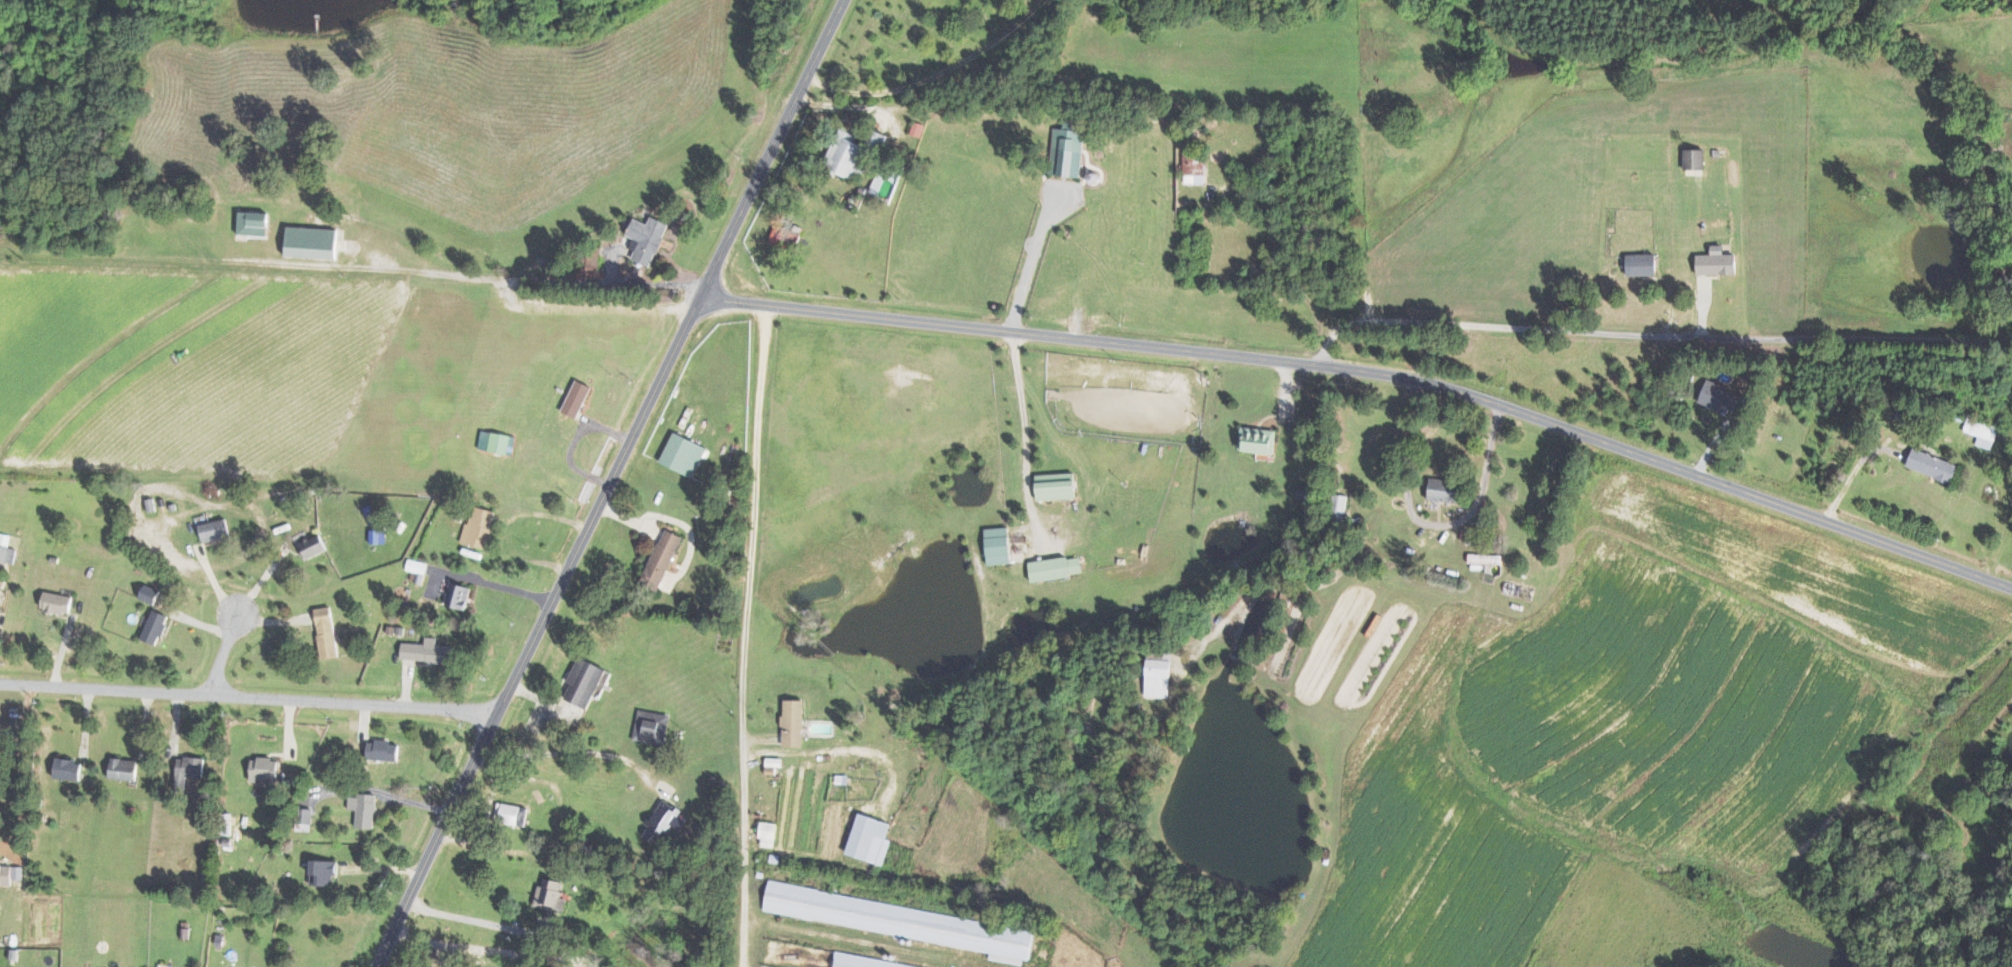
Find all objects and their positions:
road: (934, 75)
road: (847, 104)
building: (919, 129)
building: (1069, 149)
building: (847, 155)
building: (1696, 159)
building: (1195, 168)
building: (254, 224)
building: (778, 235)
building: (648, 239)
building: (313, 243)
road: (1282, 253)
road: (1031, 260)
building: (1718, 262)
building: (1643, 264)
road: (359, 278)
road: (1652, 337)
road: (1373, 375)
building: (578, 399)
building: (1724, 399)
building: (1983, 431)
road: (1026, 437)
building: (1259, 440)
building: (498, 442)
road: (572, 442)
building: (684, 455)
building: (1934, 466)
road: (1853, 473)
road: (609, 482)
building: (1058, 486)
building: (1449, 491)
road: (1431, 524)
building: (479, 527)
road: (511, 527)
building: (215, 530)
building: (379, 536)
building: (999, 545)
building: (313, 546)
building: (7, 549)
building: (1486, 559)
building: (663, 560)
building: (416, 566)
building: (1057, 568)
road: (496, 585)
building: (0, 592)
building: (151, 594)
building: (459, 597)
building: (58, 603)
building: (156, 627)
building: (327, 632)
road: (744, 637)
road: (227, 647)
building: (427, 652)
building: (1160, 679)
building: (585, 683)
road: (248, 698)
building: (795, 723)
building: (651, 727)
road: (577, 743)
building: (383, 751)
building: (774, 765)
building: (124, 769)
building: (265, 769)
building: (69, 770)
building: (189, 771)
road: (388, 783)
building: (364, 810)
building: (512, 815)
building: (663, 822)
building: (769, 835)
building: (871, 840)
building: (325, 872)
building: (11, 873)
building: (550, 894)
road: (467, 918)
building: (906, 921)
road: (461, 947)
building: (820, 957)

